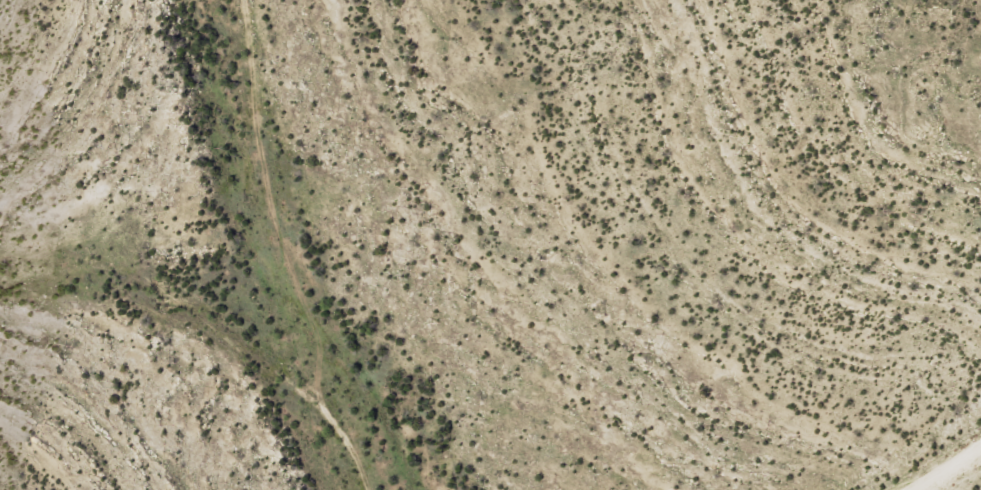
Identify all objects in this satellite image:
road: (967, 478)

